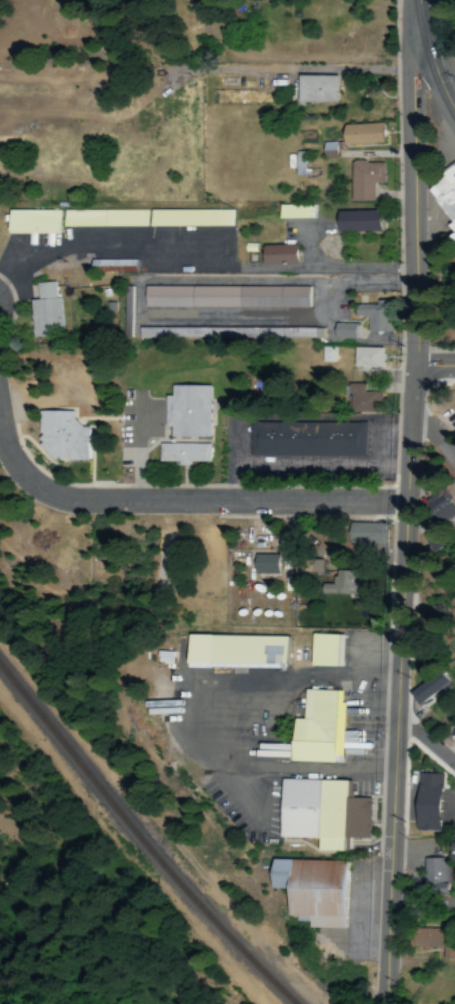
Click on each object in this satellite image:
road: (409, 9)
road: (427, 71)
building: (318, 91)
building: (363, 135)
building: (329, 150)
building: (363, 180)
building: (444, 198)
building: (295, 212)
building: (190, 219)
building: (72, 220)
building: (358, 223)
building: (279, 254)
building: (111, 265)
road: (280, 271)
building: (223, 297)
building: (42, 311)
building: (128, 311)
building: (373, 316)
building: (341, 331)
building: (227, 334)
building: (328, 354)
building: (366, 358)
road: (434, 366)
building: (360, 399)
building: (185, 411)
road: (433, 431)
building: (61, 437)
building: (305, 439)
building: (181, 454)
road: (186, 498)
building: (434, 506)
road: (405, 508)
building: (365, 534)
building: (432, 542)
building: (454, 542)
building: (265, 565)
building: (309, 567)
building: (337, 583)
building: (433, 615)
building: (327, 650)
building: (234, 652)
building: (453, 659)
building: (428, 688)
building: (324, 730)
road: (425, 740)
building: (427, 802)
building: (322, 813)
railway: (142, 840)
building: (432, 875)
building: (314, 890)
building: (435, 940)
road: (385, 1001)

